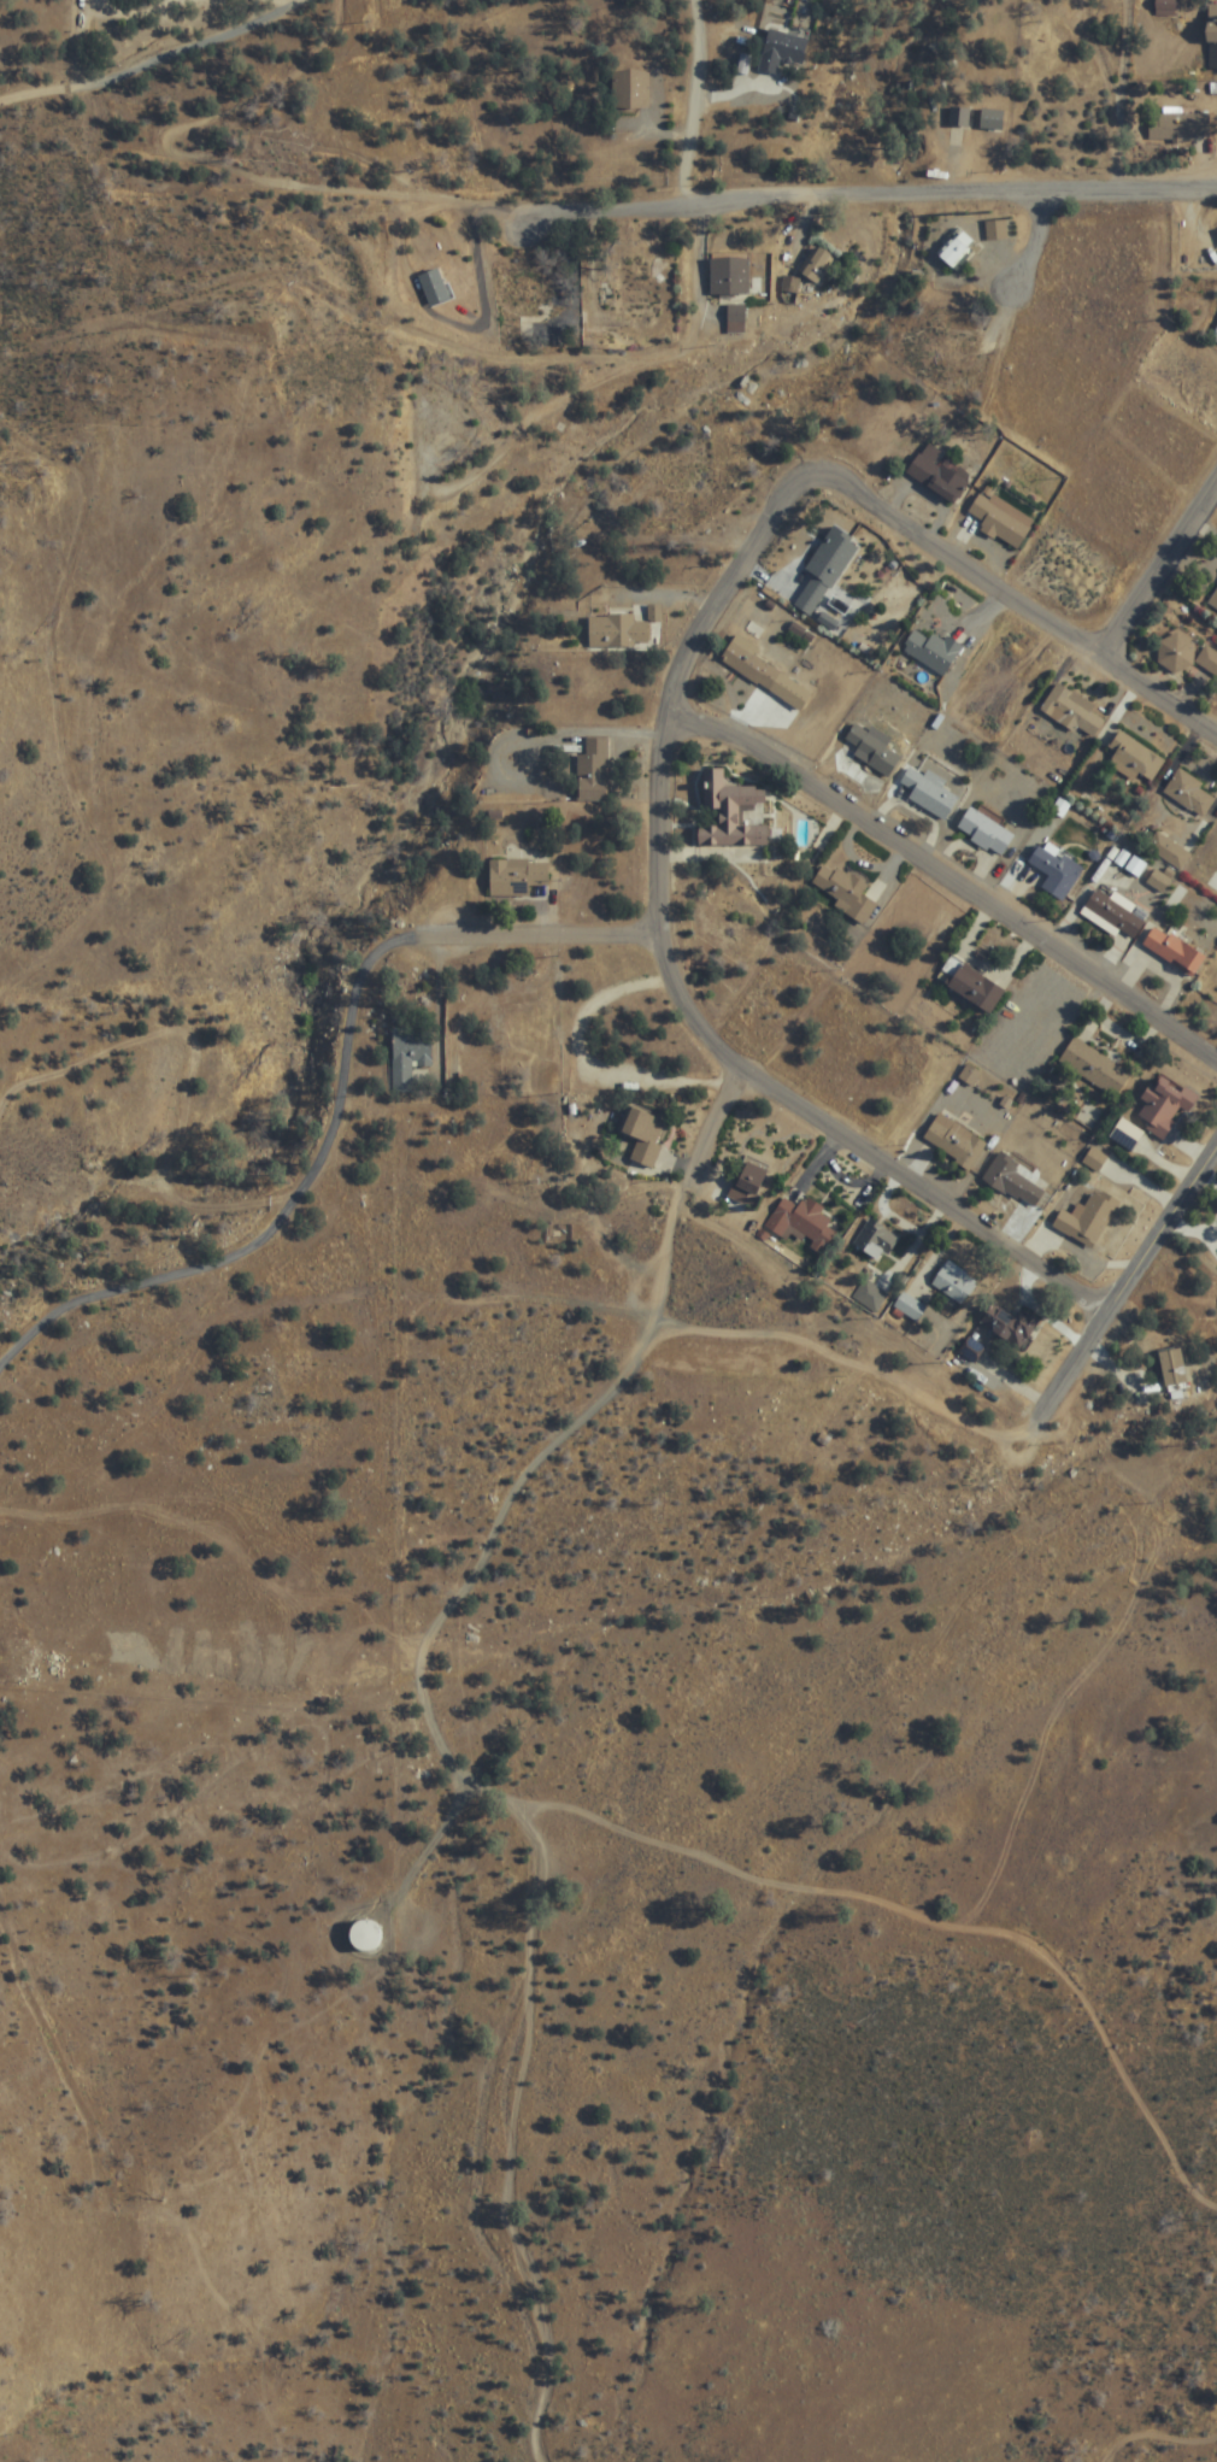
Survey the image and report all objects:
building: (1164, 7)
building: (1211, 37)
building: (781, 48)
road: (159, 63)
building: (629, 88)
road: (695, 99)
building: (1177, 125)
building: (976, 127)
building: (270, 149)
road: (729, 199)
building: (816, 266)
building: (728, 276)
road: (1040, 282)
building: (452, 290)
building: (623, 302)
building: (519, 305)
building: (1215, 334)
road: (440, 343)
building: (950, 349)
building: (440, 417)
building: (939, 472)
building: (689, 496)
building: (1000, 519)
building: (822, 572)
road: (1163, 575)
road: (1013, 595)
building: (1213, 599)
building: (615, 631)
building: (931, 651)
building: (1175, 653)
building: (1207, 660)
building: (751, 665)
building: (1074, 711)
building: (872, 750)
building: (1134, 758)
road: (660, 766)
building: (592, 770)
building: (928, 793)
building: (1188, 793)
building: (730, 813)
building: (984, 832)
building: (1169, 851)
road: (945, 871)
building: (1054, 872)
building: (516, 877)
building: (845, 892)
building: (1113, 916)
road: (549, 932)
building: (734, 936)
building: (1172, 951)
building: (972, 986)
building: (529, 1024)
building: (407, 1057)
building: (1093, 1068)
building: (542, 1082)
building: (1164, 1105)
building: (643, 1134)
building: (1125, 1135)
building: (954, 1141)
building: (1012, 1181)
building: (749, 1182)
road: (928, 1186)
road: (684, 1188)
building: (1087, 1220)
building: (802, 1224)
building: (875, 1241)
building: (953, 1282)
road: (1119, 1291)
building: (870, 1295)
road: (319, 1300)
building: (910, 1308)
building: (1009, 1326)
building: (971, 1350)
road: (534, 1839)
building: (364, 1934)

